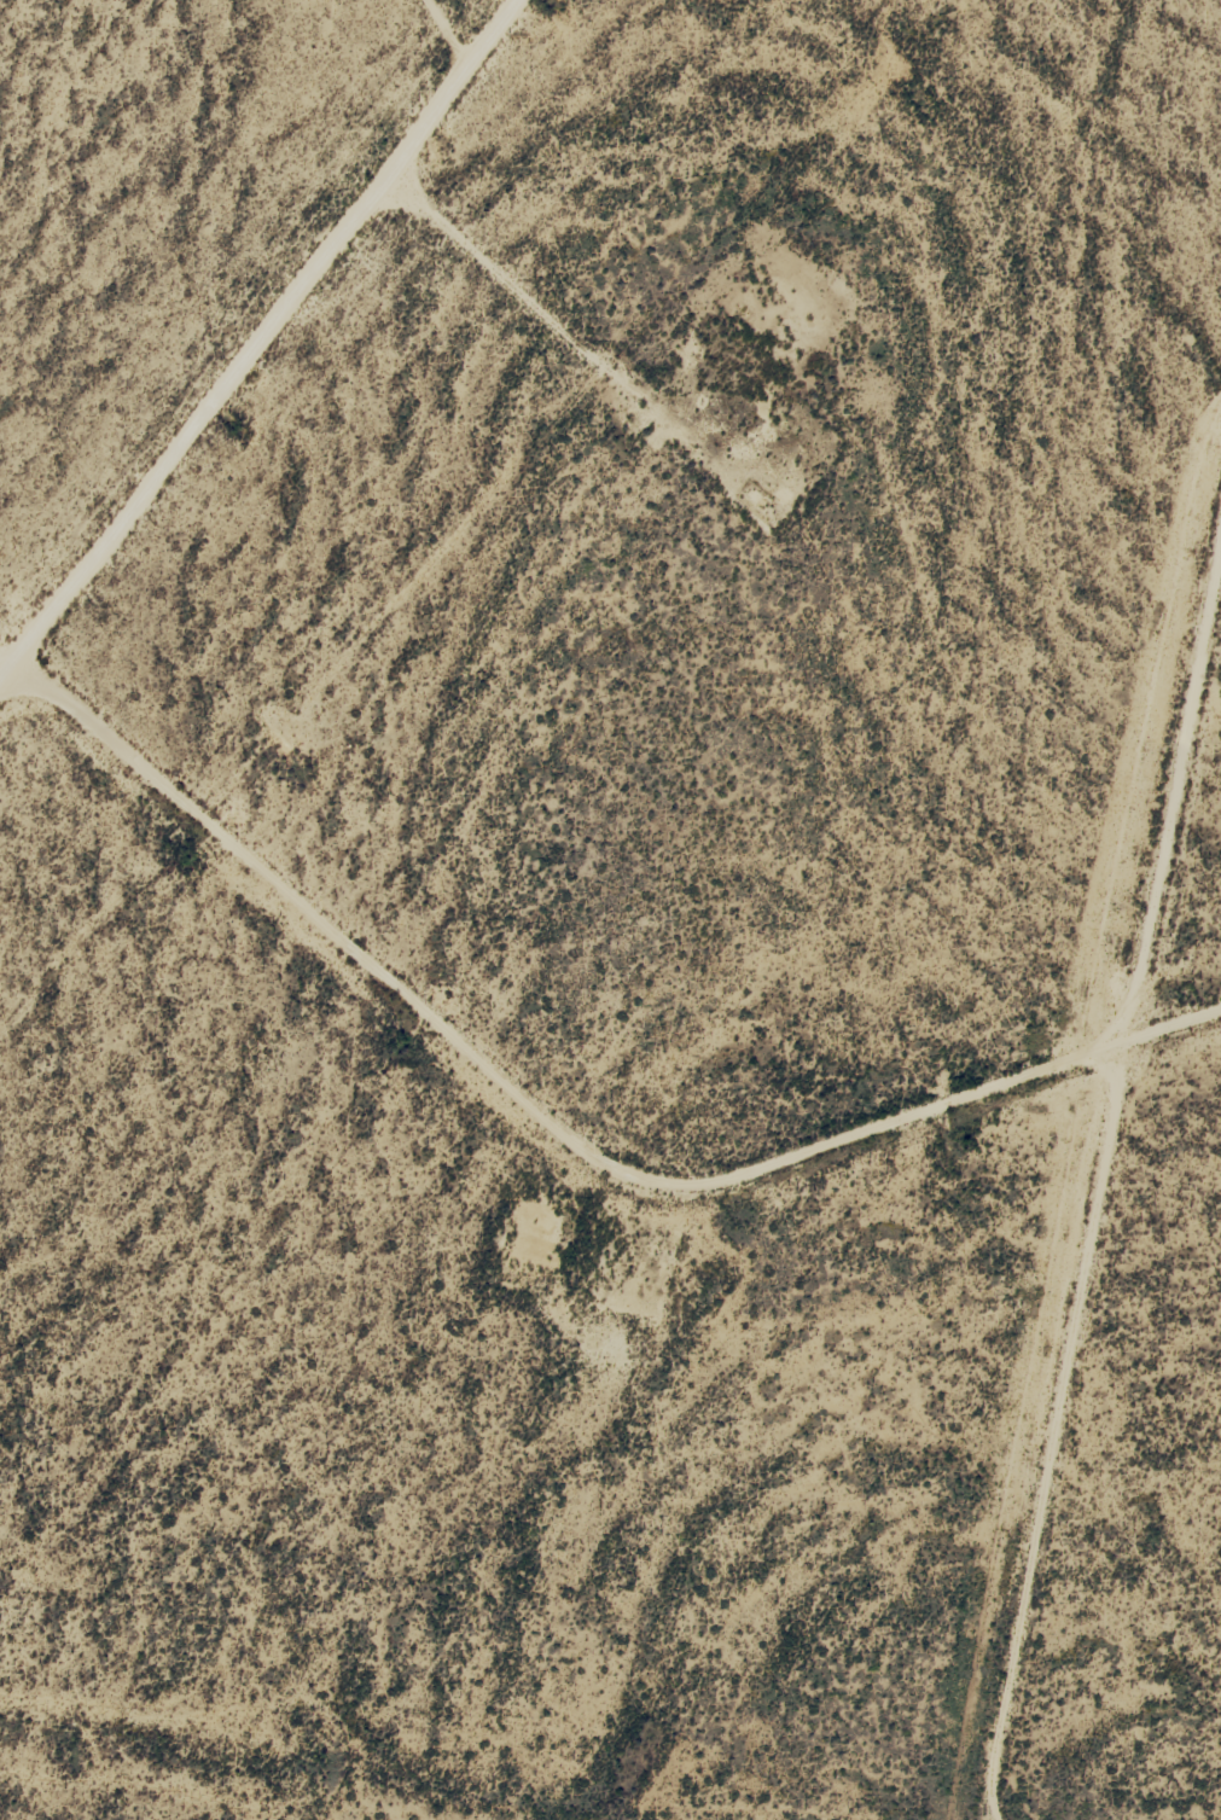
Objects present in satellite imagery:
road: (296, 341)
road: (542, 1149)

